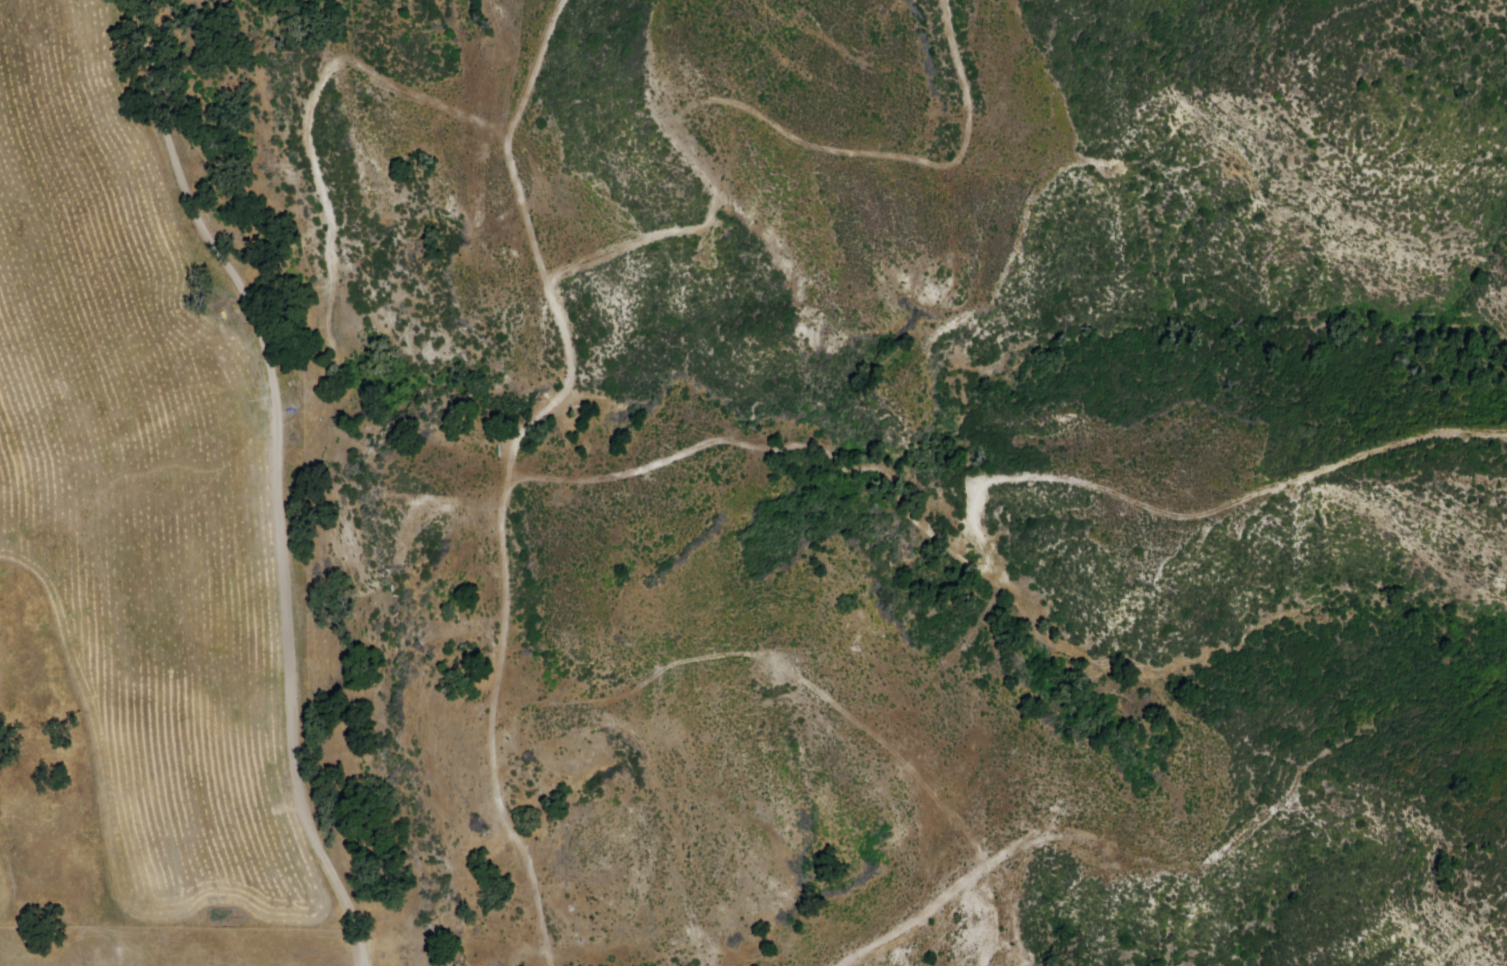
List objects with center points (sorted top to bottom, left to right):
road: (273, 473)

